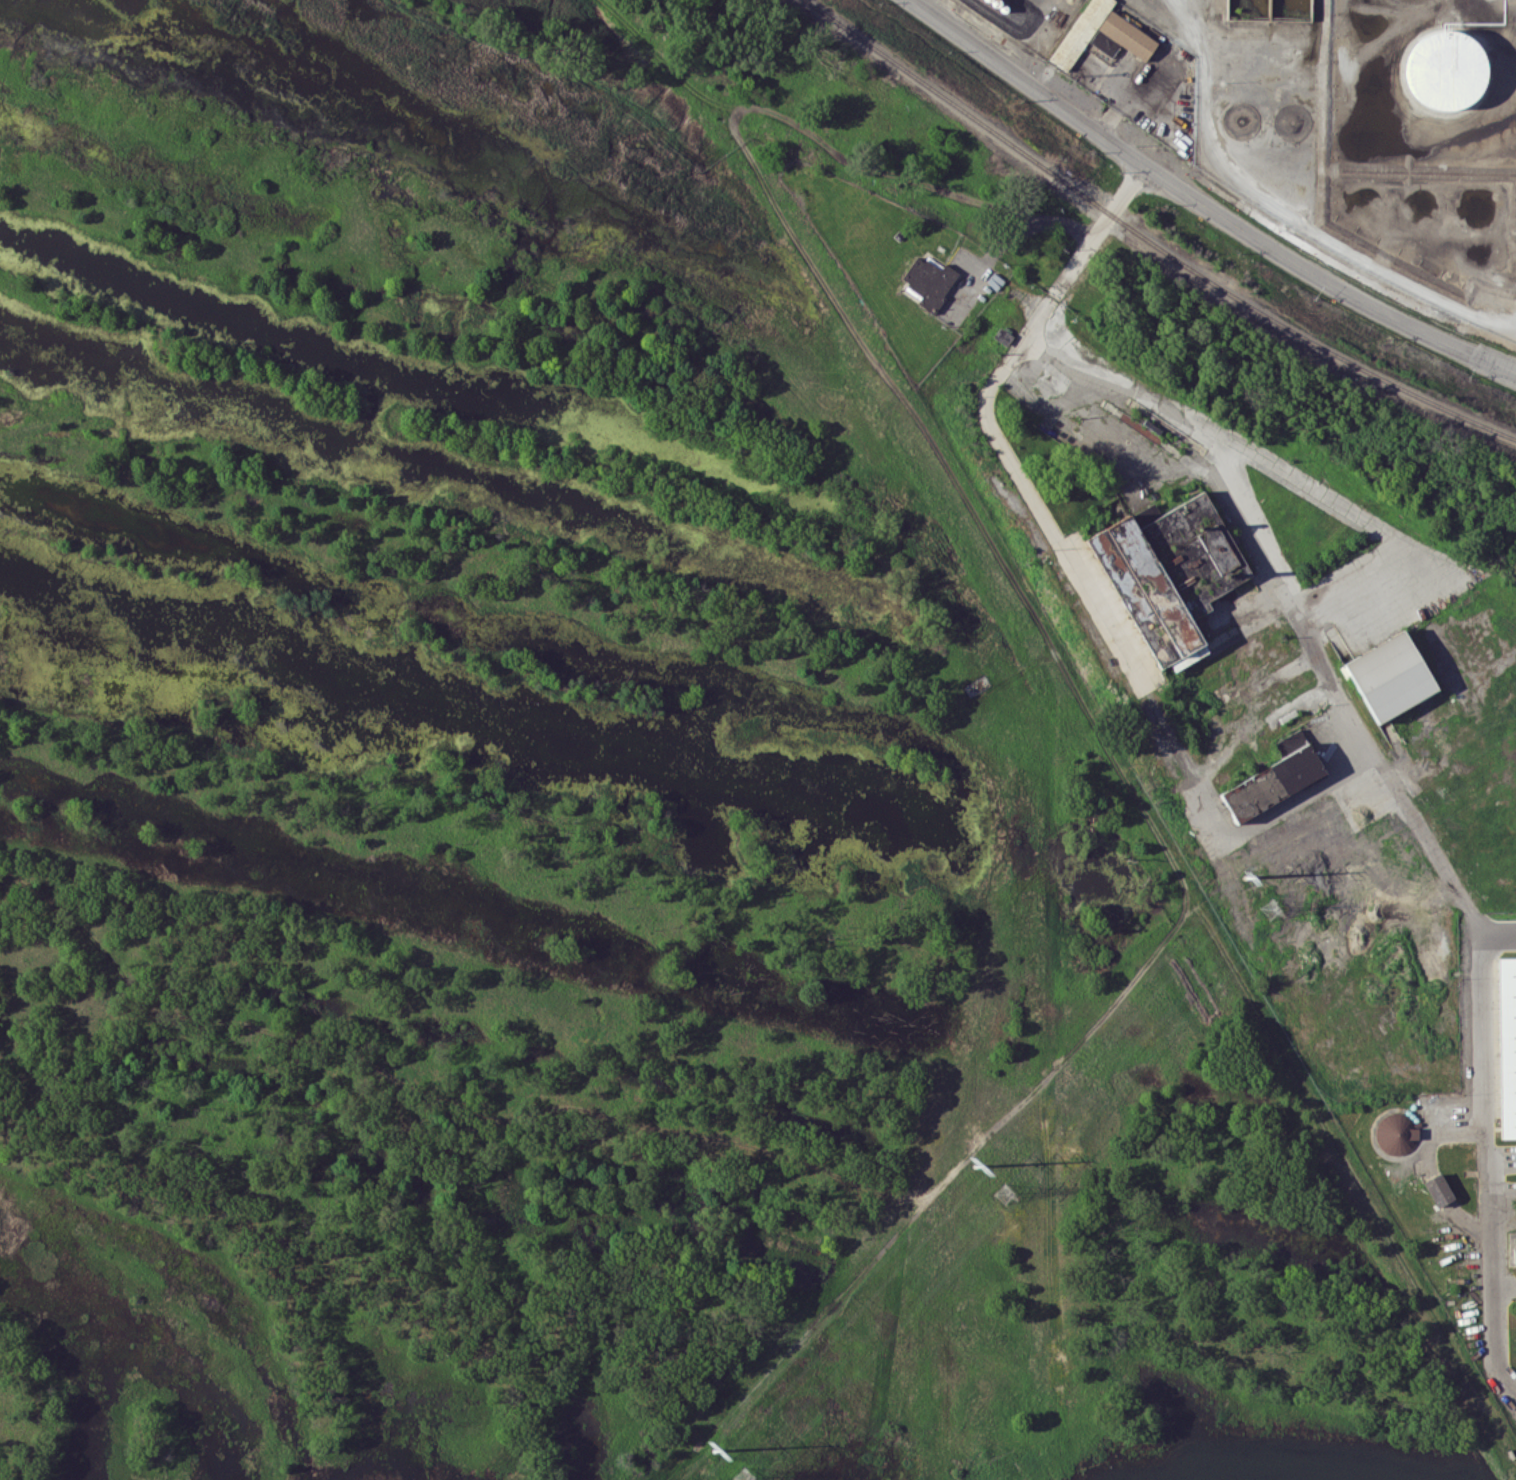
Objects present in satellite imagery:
building: (1101, 34)
building: (1444, 69)
road: (1269, 199)
road: (1201, 203)
road: (1025, 225)
railway: (1148, 239)
building: (928, 279)
building: (1002, 336)
road: (1141, 395)
road: (986, 421)
building: (1167, 569)
building: (1389, 675)
road: (1348, 709)
building: (1271, 783)
road: (1281, 813)
power tower: (1244, 873)
building: (1507, 1045)
building: (1396, 1133)
road: (1489, 1152)
power tower: (975, 1164)
building: (1437, 1189)
power tower: (714, 1447)

